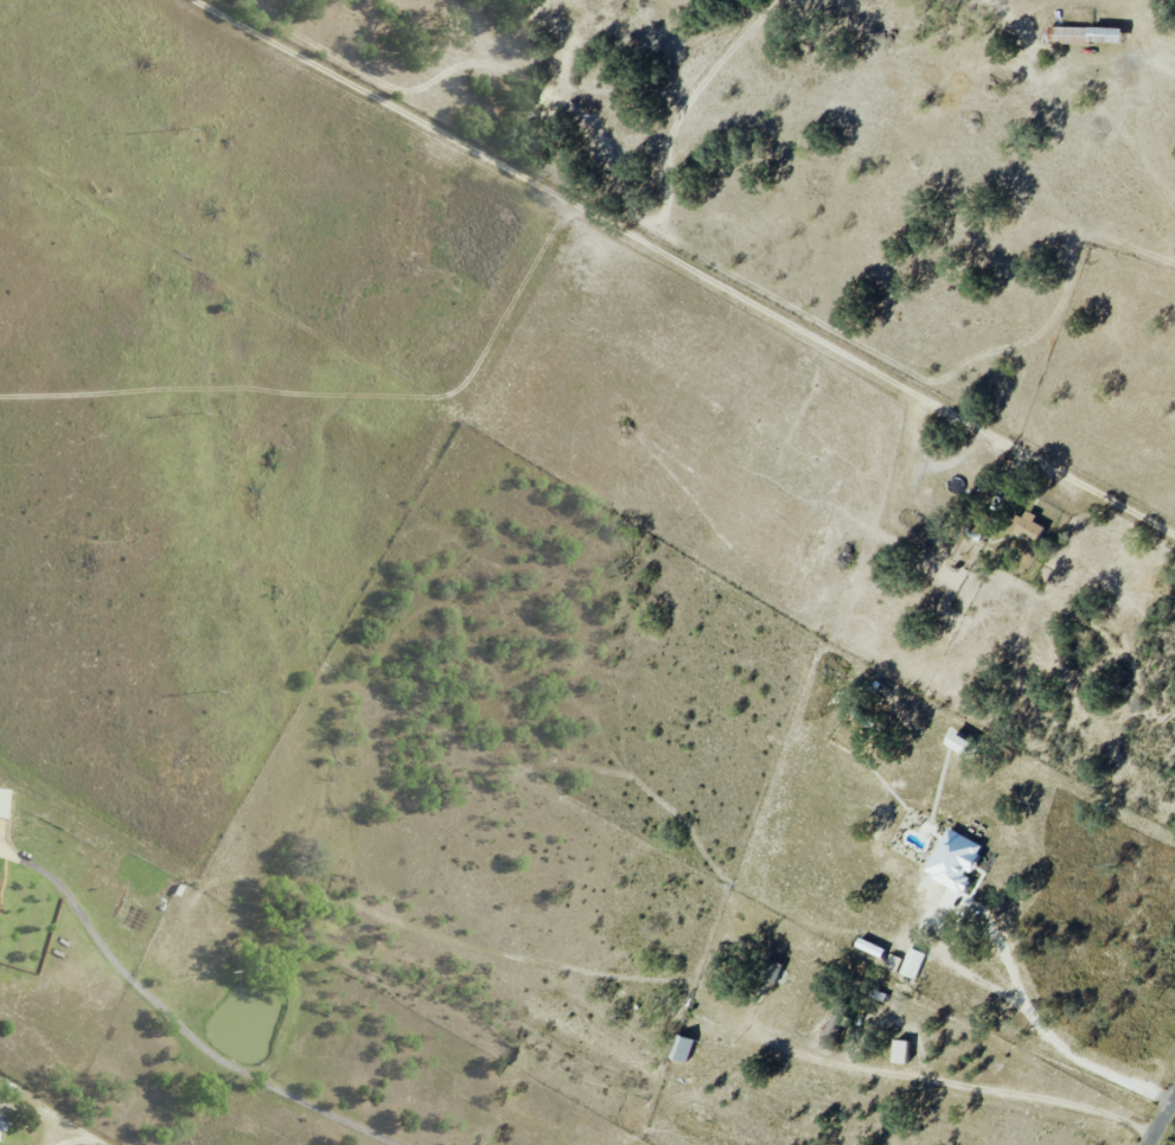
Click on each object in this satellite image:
building: (1085, 34)
road: (1080, 56)
power tower: (181, 129)
road: (684, 268)
power tower: (198, 414)
building: (914, 474)
building: (1026, 525)
power tower: (211, 693)
building: (957, 741)
building: (2, 800)
building: (953, 859)
road: (1007, 959)
building: (894, 961)
building: (913, 962)
building: (772, 971)
power tower: (228, 972)
road: (177, 1024)
building: (682, 1048)
building: (900, 1050)
road: (949, 1080)
road: (1162, 1122)
road: (83, 1138)

